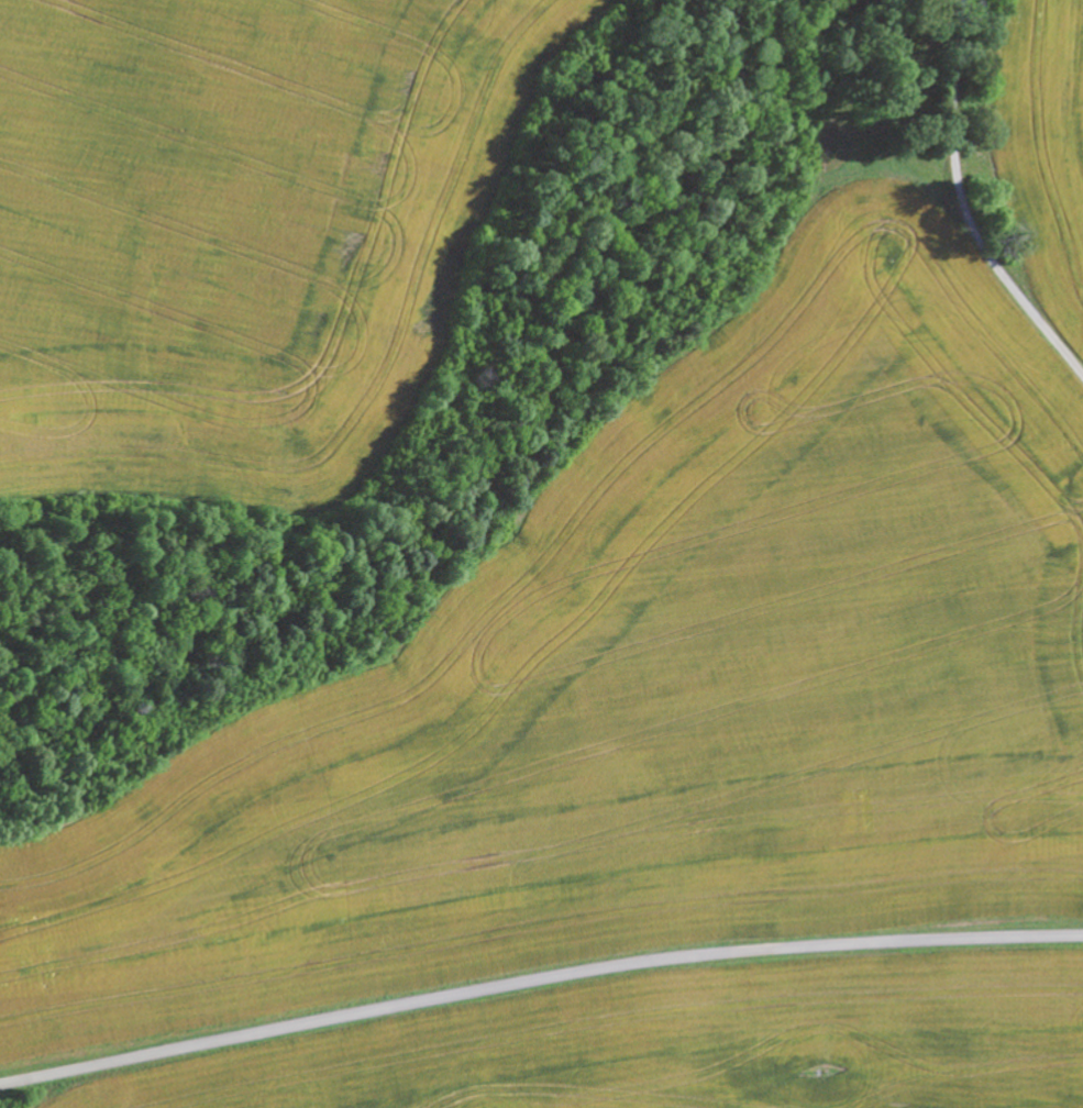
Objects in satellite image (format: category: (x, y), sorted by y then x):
road: (959, 225)
road: (538, 985)

